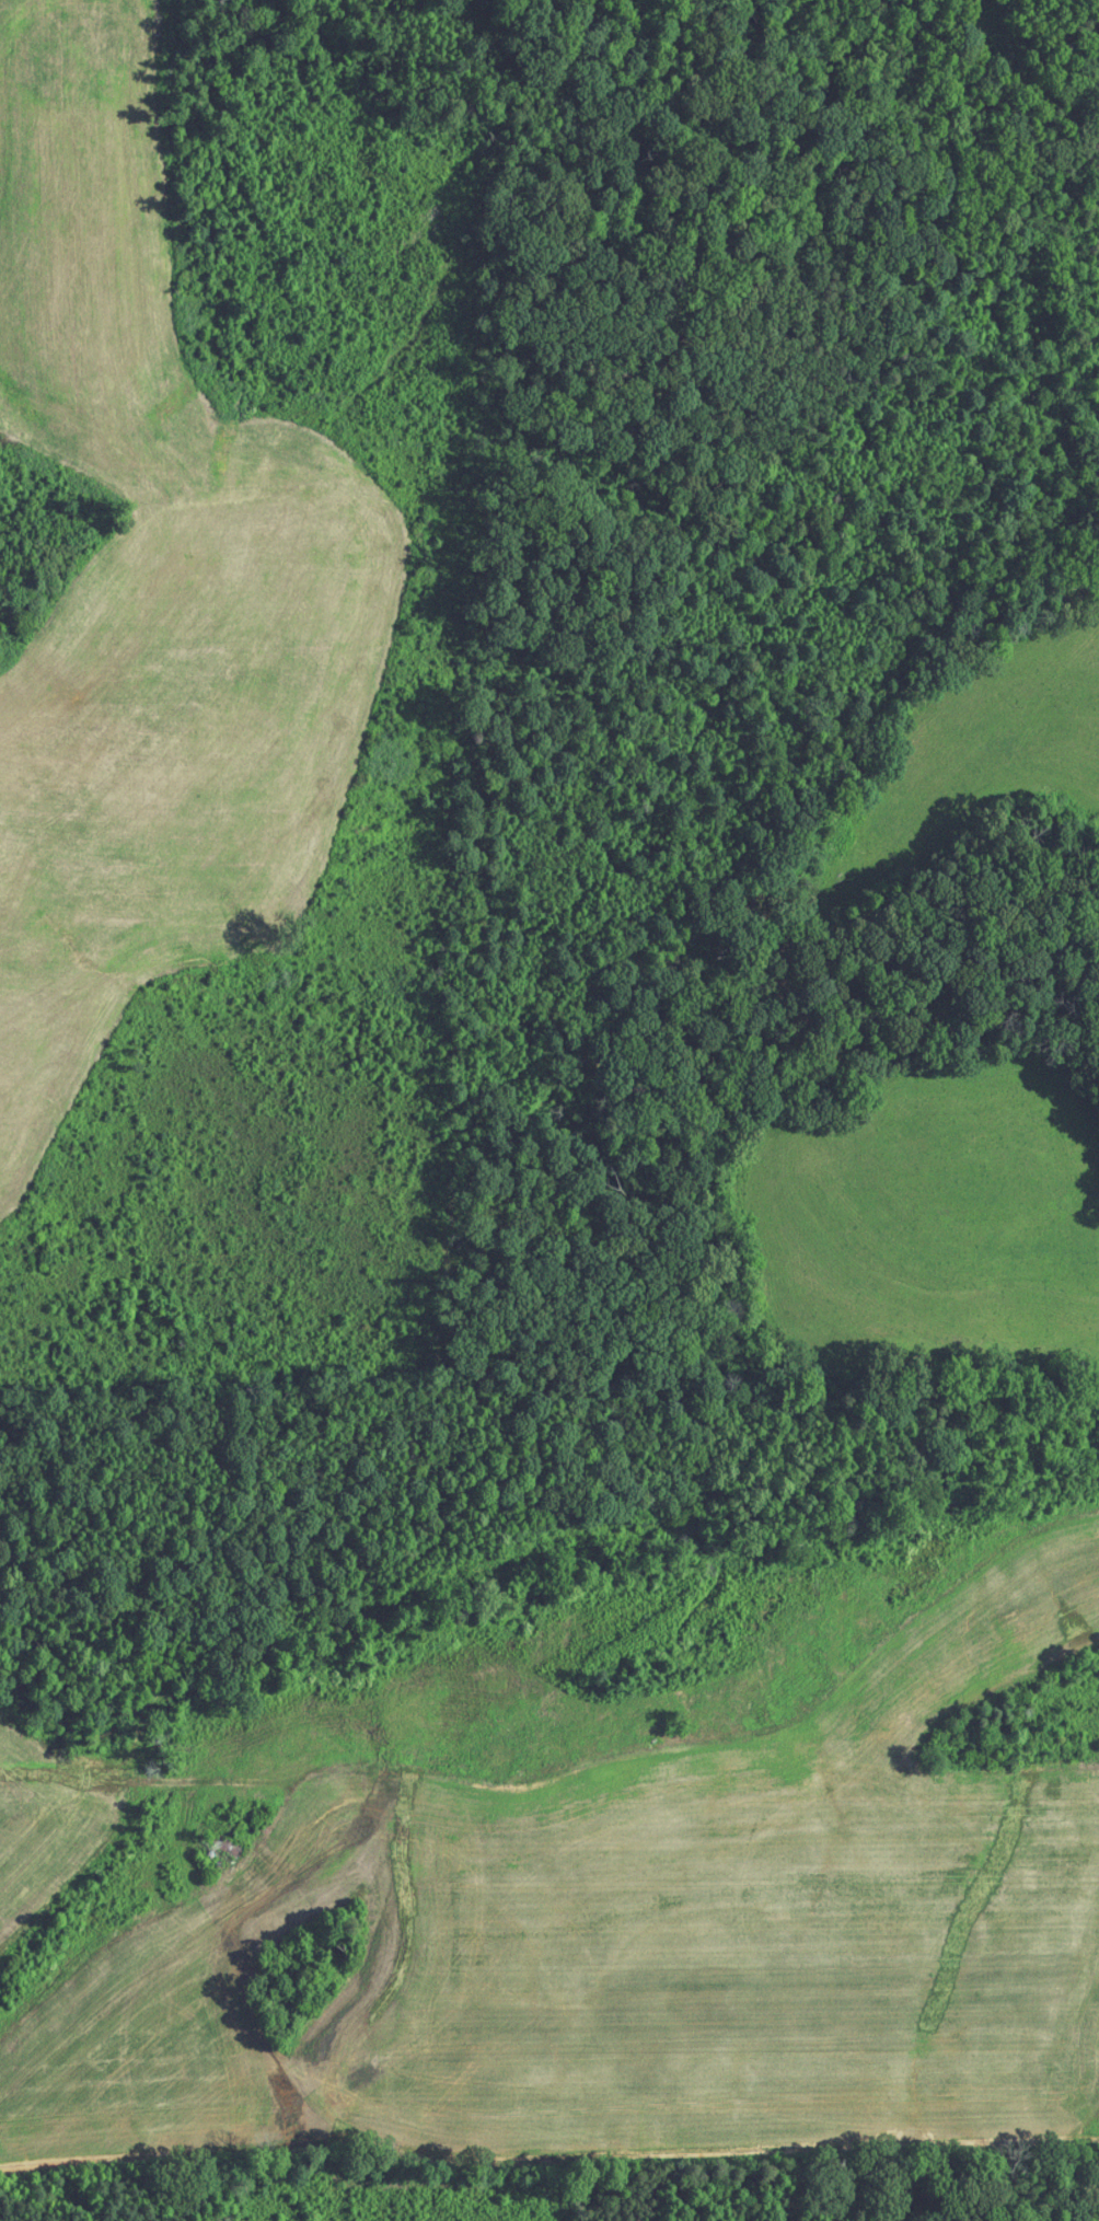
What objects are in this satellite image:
road: (407, 2163)

